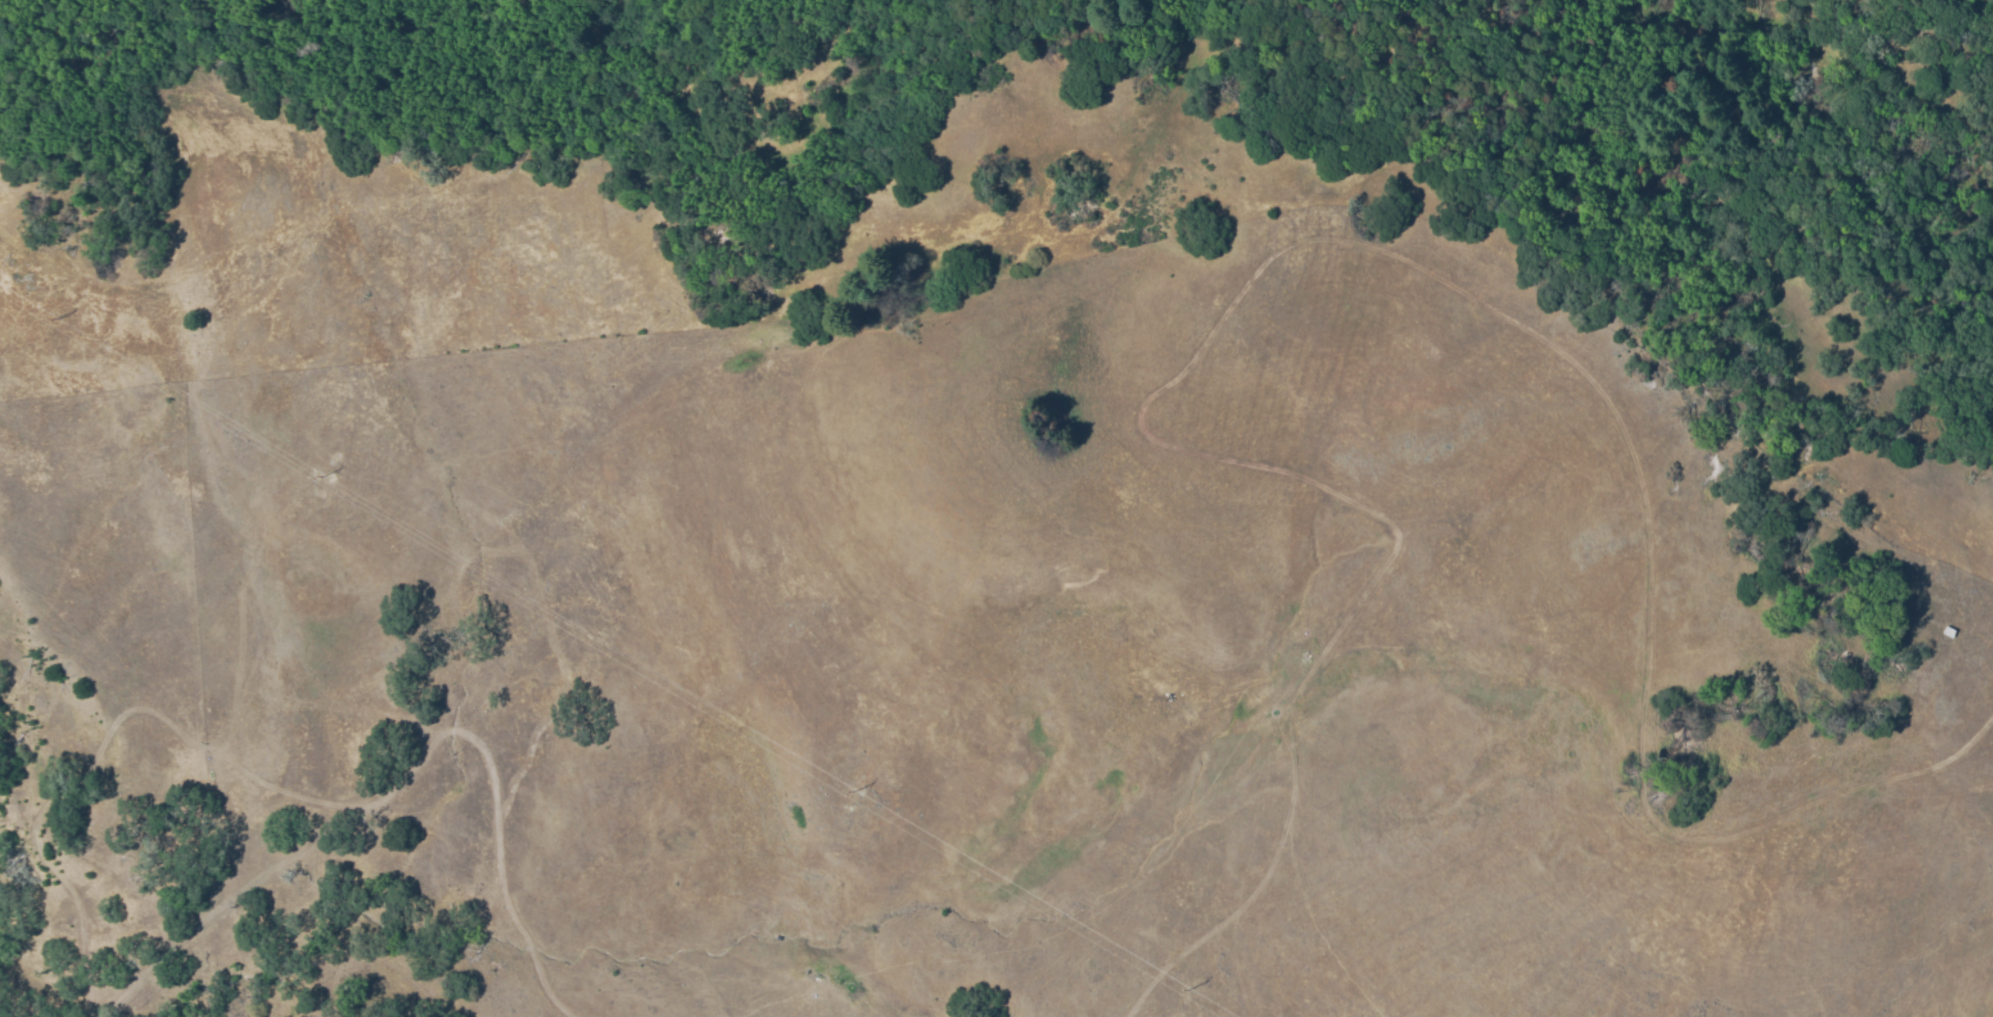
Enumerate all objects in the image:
building: (1947, 631)

